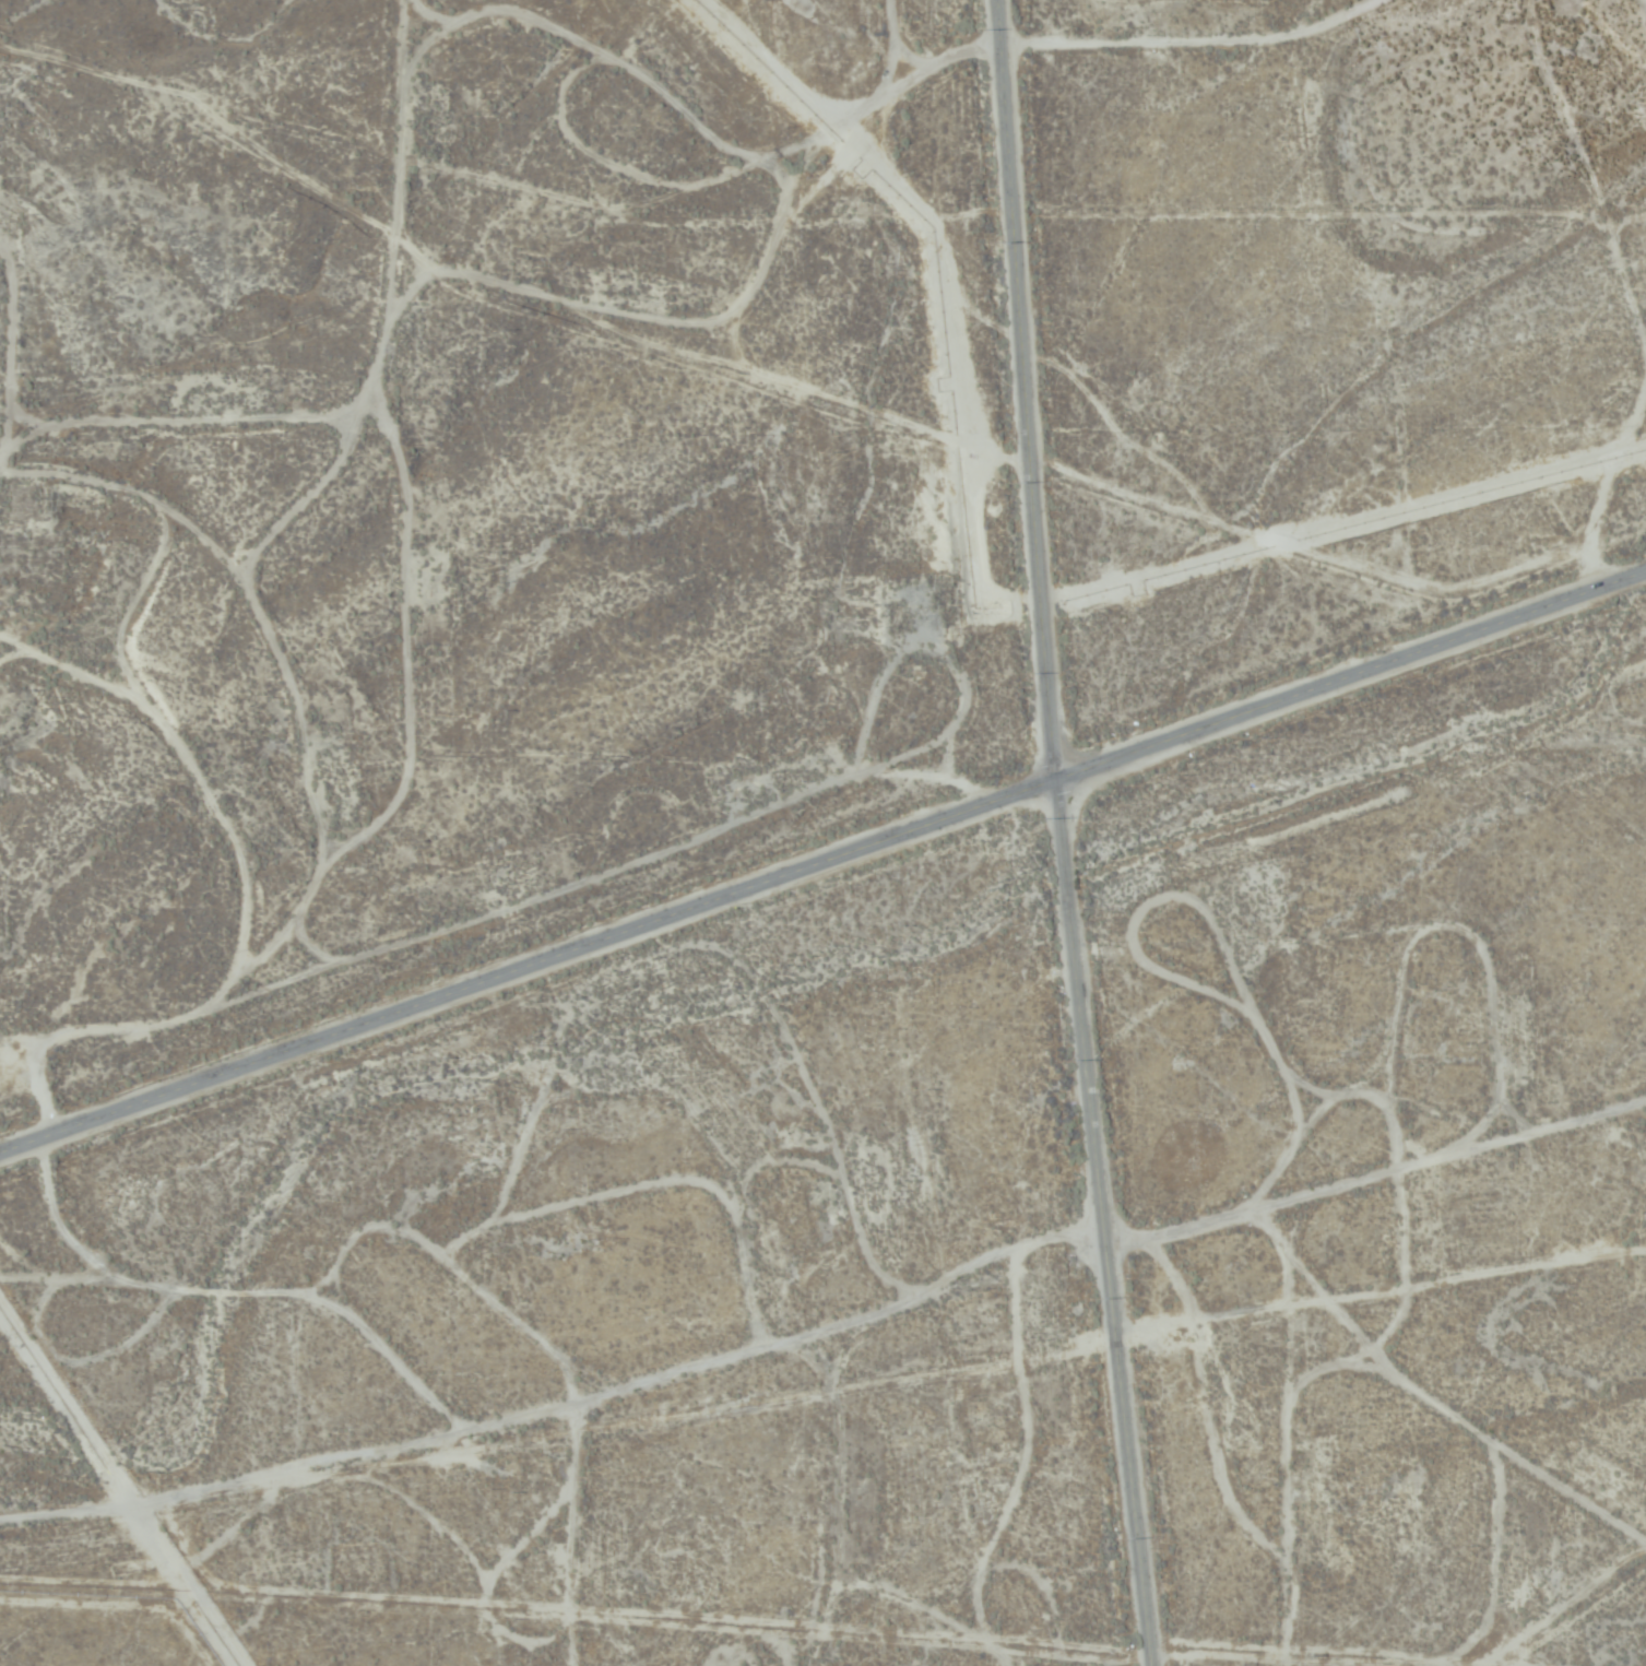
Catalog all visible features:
road: (1062, 834)
road: (819, 863)

